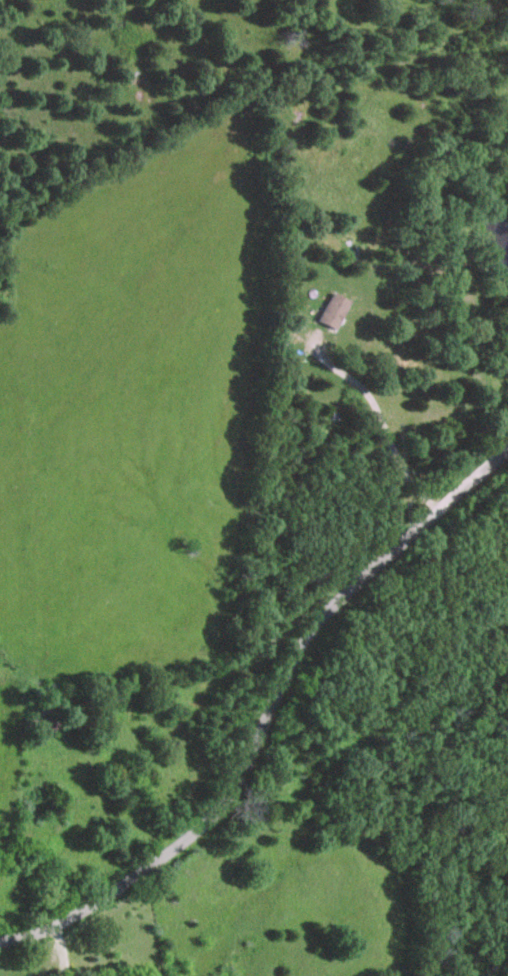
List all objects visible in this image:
building: (329, 312)
road: (247, 683)

